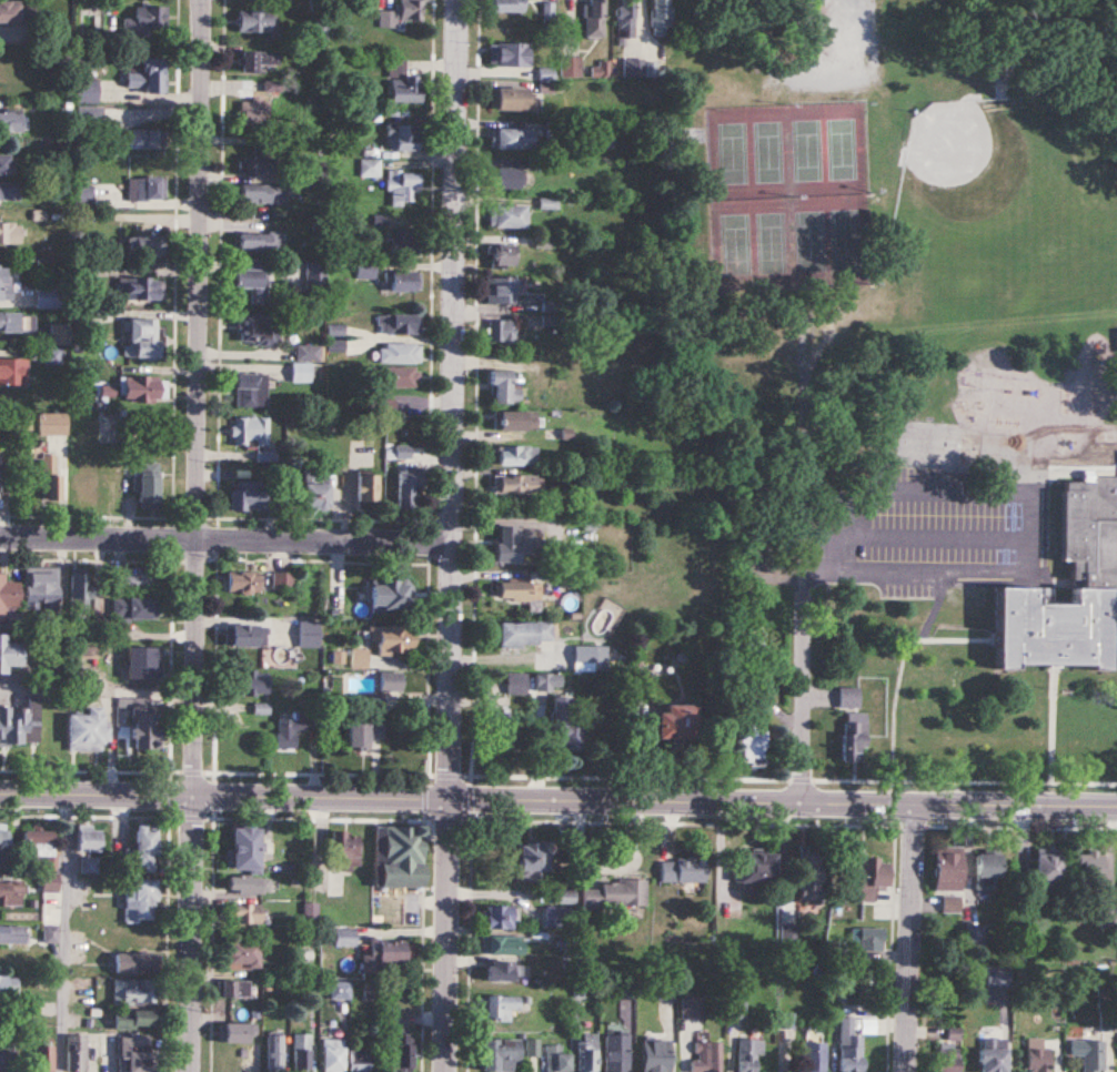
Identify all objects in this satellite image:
building: (507, 6)
building: (16, 11)
building: (401, 13)
building: (625, 13)
building: (662, 18)
building: (594, 19)
building: (145, 20)
building: (256, 21)
road: (813, 37)
building: (509, 54)
building: (259, 61)
building: (571, 67)
building: (10, 68)
building: (633, 68)
building: (600, 70)
building: (145, 74)
building: (403, 83)
building: (87, 91)
building: (515, 99)
building: (254, 112)
building: (10, 122)
building: (403, 138)
building: (512, 139)
building: (144, 140)
park: (845, 148)
park: (806, 149)
park: (769, 150)
park: (728, 152)
building: (259, 160)
building: (4, 165)
building: (370, 168)
building: (510, 178)
building: (145, 189)
building: (403, 189)
building: (9, 192)
building: (261, 193)
building: (83, 196)
building: (507, 216)
building: (10, 233)
park: (848, 239)
park: (811, 240)
building: (405, 241)
park: (773, 241)
building: (259, 242)
park: (731, 243)
building: (145, 246)
building: (503, 254)
building: (365, 271)
building: (315, 273)
building: (404, 280)
building: (4, 282)
building: (252, 284)
building: (502, 290)
building: (140, 291)
building: (46, 297)
building: (17, 322)
building: (399, 324)
building: (259, 330)
building: (502, 332)
building: (59, 333)
building: (143, 338)
building: (399, 353)
building: (13, 372)
building: (301, 373)
building: (400, 376)
building: (504, 387)
building: (141, 388)
building: (250, 391)
building: (516, 419)
building: (52, 423)
building: (250, 432)
building: (402, 452)
building: (517, 455)
building: (0, 461)
building: (50, 481)
building: (88, 484)
building: (515, 484)
building: (148, 486)
building: (366, 488)
building: (407, 489)
building: (315, 494)
building: (249, 498)
road: (199, 536)
road: (451, 536)
road: (225, 539)
road: (1015, 539)
building: (513, 543)
building: (1094, 573)
building: (135, 578)
building: (242, 583)
building: (283, 583)
building: (40, 588)
building: (80, 593)
building: (520, 593)
building: (969, 595)
building: (390, 596)
building: (8, 597)
building: (133, 608)
building: (525, 634)
building: (309, 635)
building: (244, 636)
building: (390, 639)
building: (9, 654)
building: (591, 658)
building: (141, 663)
building: (547, 680)
building: (246, 682)
building: (390, 682)
building: (516, 685)
building: (849, 698)
road: (801, 711)
building: (675, 722)
building: (19, 726)
building: (143, 728)
building: (564, 728)
building: (288, 729)
building: (85, 730)
building: (363, 734)
building: (854, 737)
building: (753, 744)
road: (558, 799)
building: (88, 839)
building: (3, 847)
building: (244, 847)
building: (38, 850)
building: (143, 850)
building: (345, 850)
building: (398, 857)
building: (525, 859)
building: (89, 864)
building: (984, 866)
building: (1043, 867)
building: (746, 869)
building: (1086, 869)
building: (680, 871)
building: (944, 871)
building: (805, 874)
building: (868, 878)
building: (49, 882)
building: (249, 884)
building: (10, 892)
building: (613, 896)
building: (570, 898)
building: (140, 901)
building: (244, 913)
building: (1107, 917)
building: (495, 918)
building: (556, 918)
road: (62, 932)
building: (788, 932)
building: (12, 934)
road: (910, 936)
building: (972, 936)
building: (345, 938)
building: (865, 938)
building: (499, 947)
building: (834, 949)
building: (242, 953)
building: (383, 955)
building: (133, 963)
building: (497, 969)
building: (9, 987)
building: (234, 989)
building: (627, 990)
building: (663, 991)
building: (134, 992)
building: (371, 993)
building: (494, 1007)
building: (735, 1007)
building: (690, 1008)
building: (1104, 1017)
building: (133, 1019)
building: (783, 1020)
building: (235, 1033)
building: (845, 1044)
building: (530, 1046)
building: (0, 1049)
building: (401, 1049)
building: (585, 1052)
building: (613, 1052)
building: (76, 1053)
building: (134, 1053)
building: (274, 1053)
building: (301, 1053)
building: (745, 1053)
building: (988, 1054)
building: (1089, 1054)
building: (332, 1055)
building: (495, 1055)
building: (946, 1055)
building: (1038, 1055)
building: (652, 1056)
building: (813, 1056)
building: (43, 1059)
building: (553, 1059)
building: (704, 1059)
building: (360, 1060)

